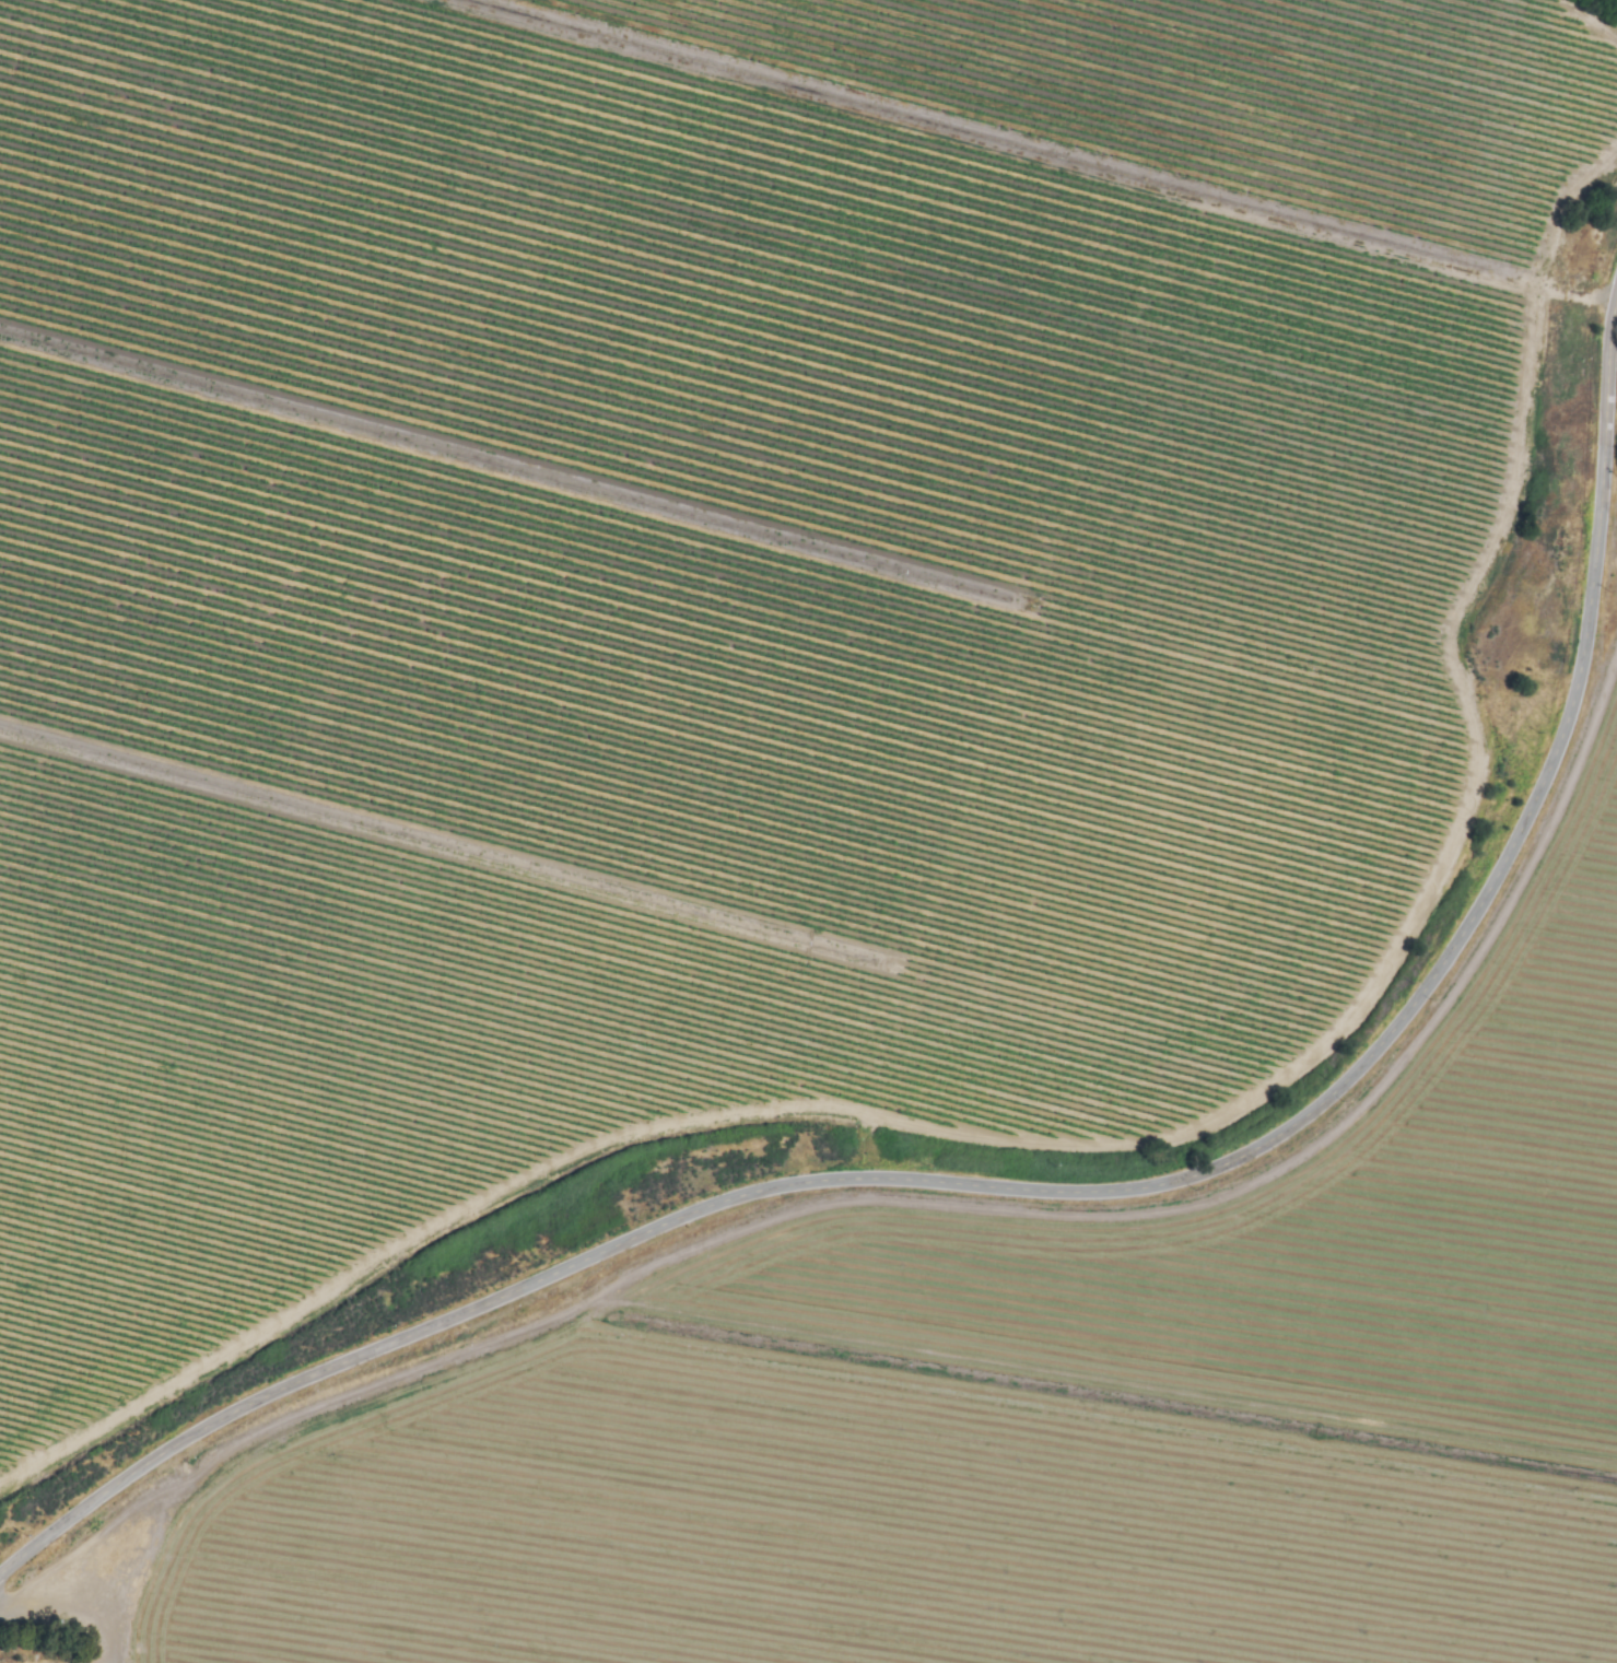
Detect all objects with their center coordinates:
crop: (807, 818)
road: (1062, 1193)

